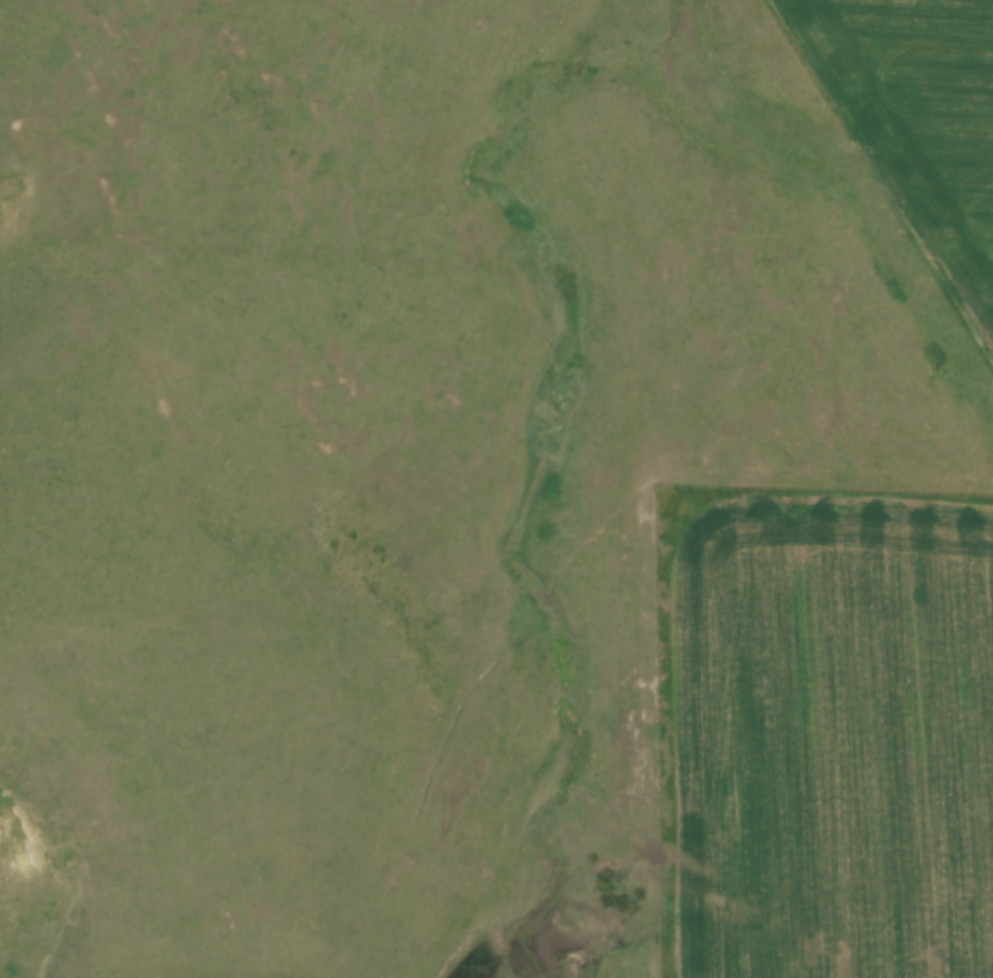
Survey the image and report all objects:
road: (886, 174)

